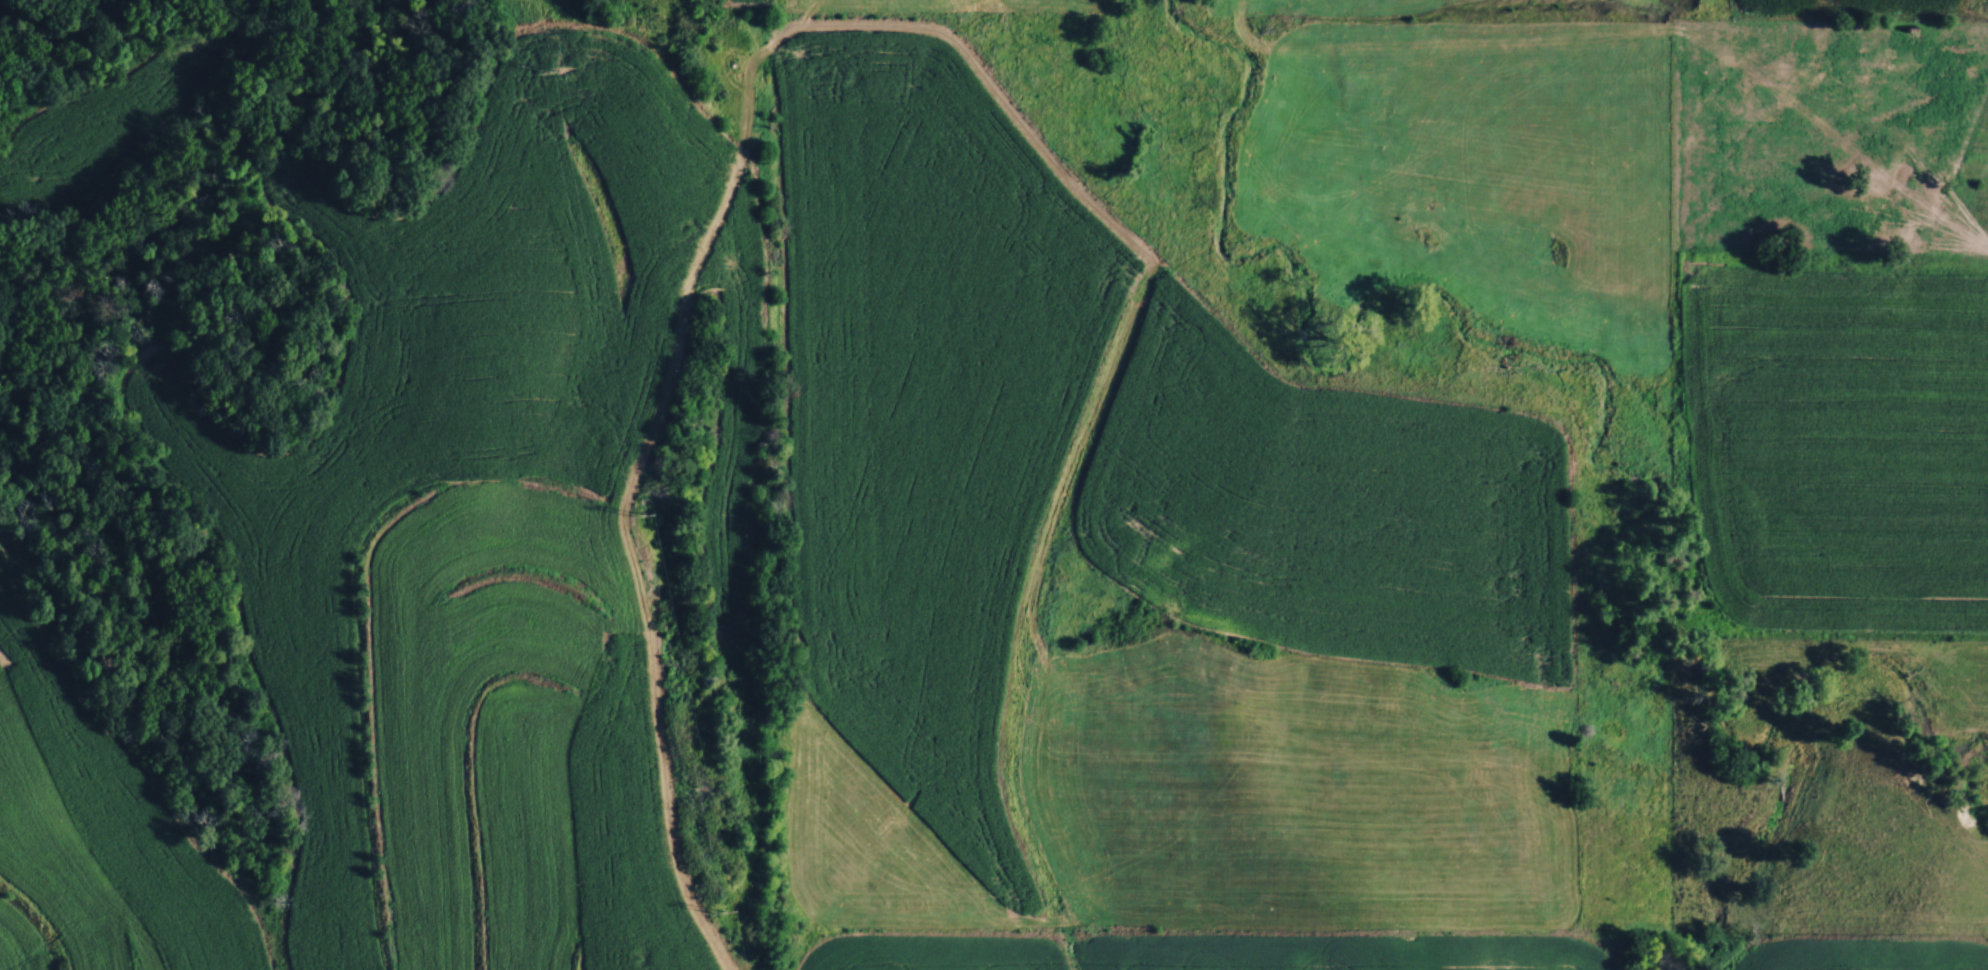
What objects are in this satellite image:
power tower: (557, 69)
power tower: (648, 512)
power tower: (725, 907)

